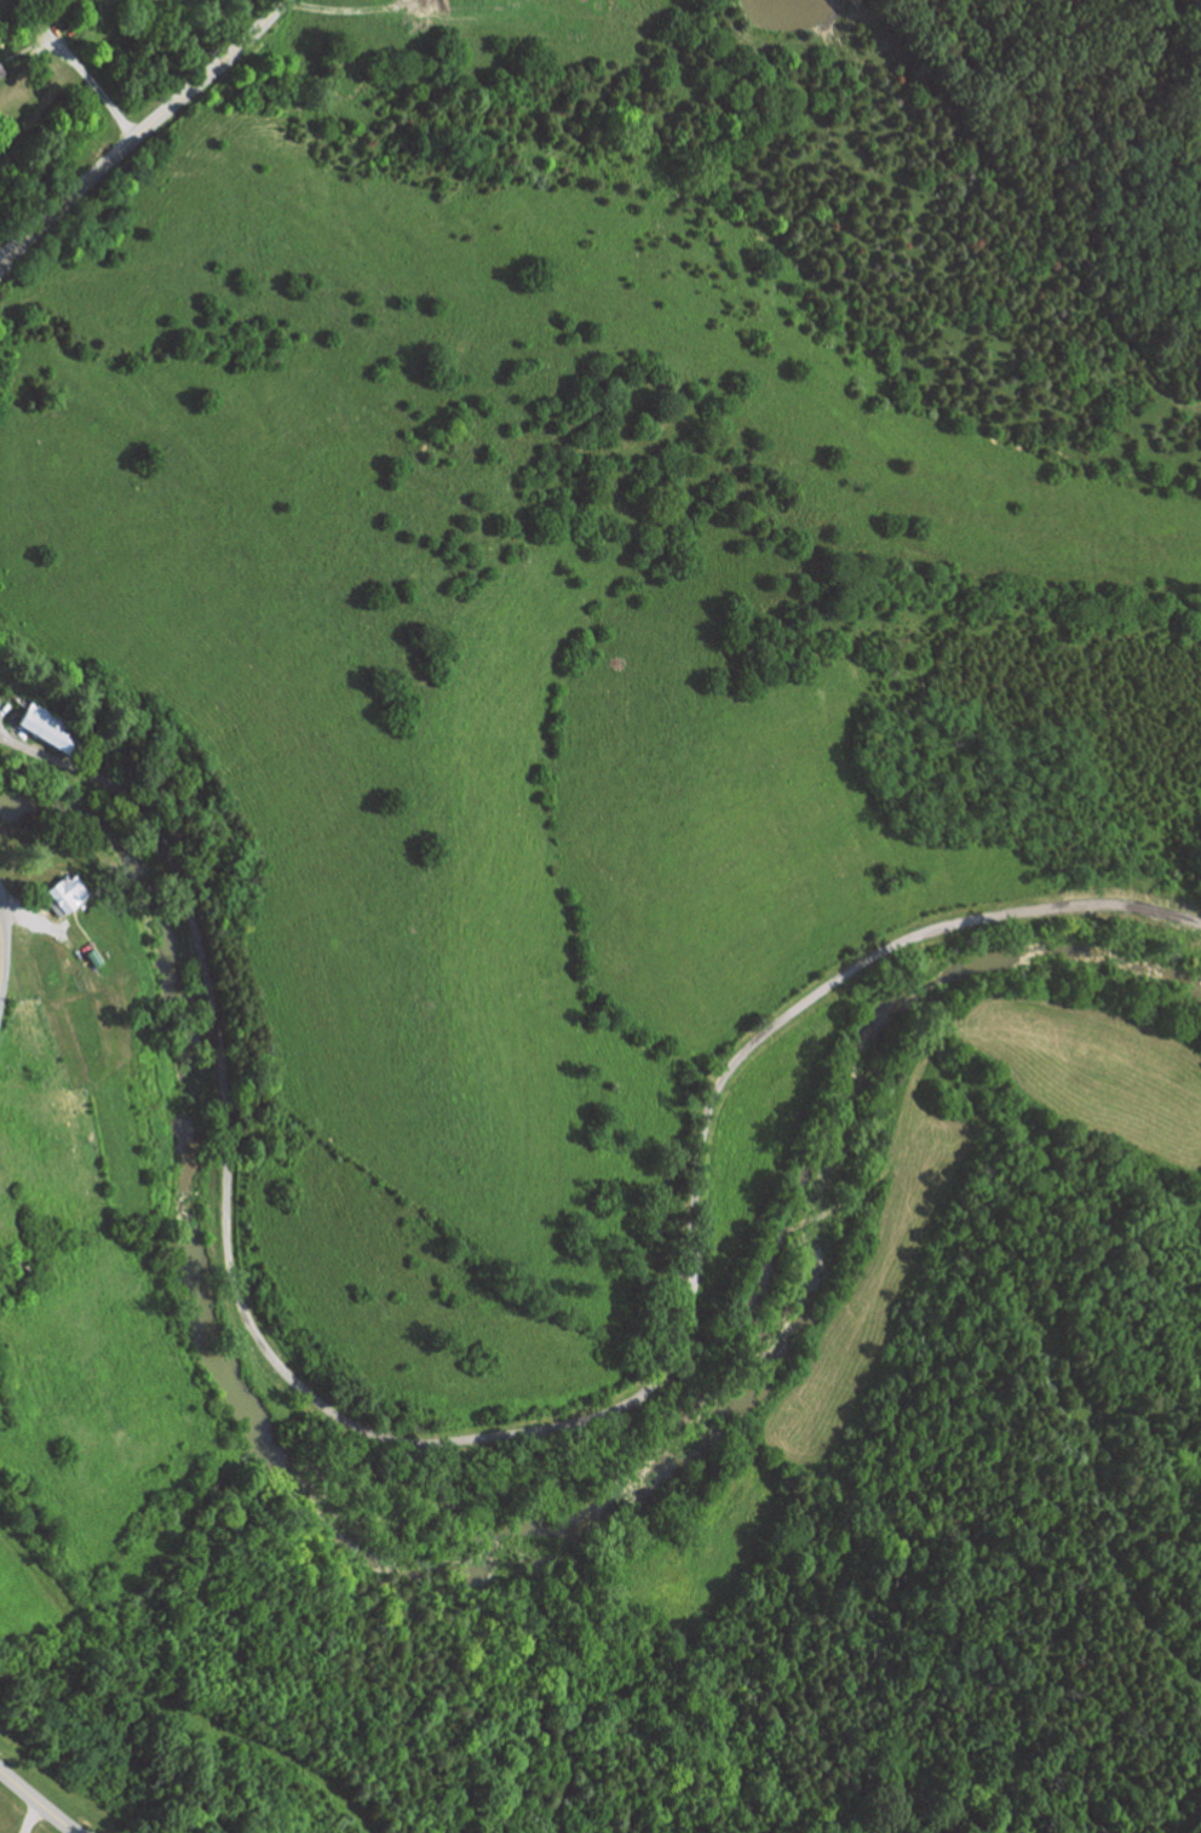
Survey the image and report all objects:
road: (1199, 1)
road: (329, 7)
building: (85, 18)
building: (1, 69)
road: (96, 86)
road: (140, 133)
road: (4, 257)
building: (51, 726)
building: (47, 769)
building: (63, 892)
road: (30, 918)
road: (0, 957)
building: (19, 1265)
road: (510, 1431)
road: (39, 1800)
road: (30, 1815)

